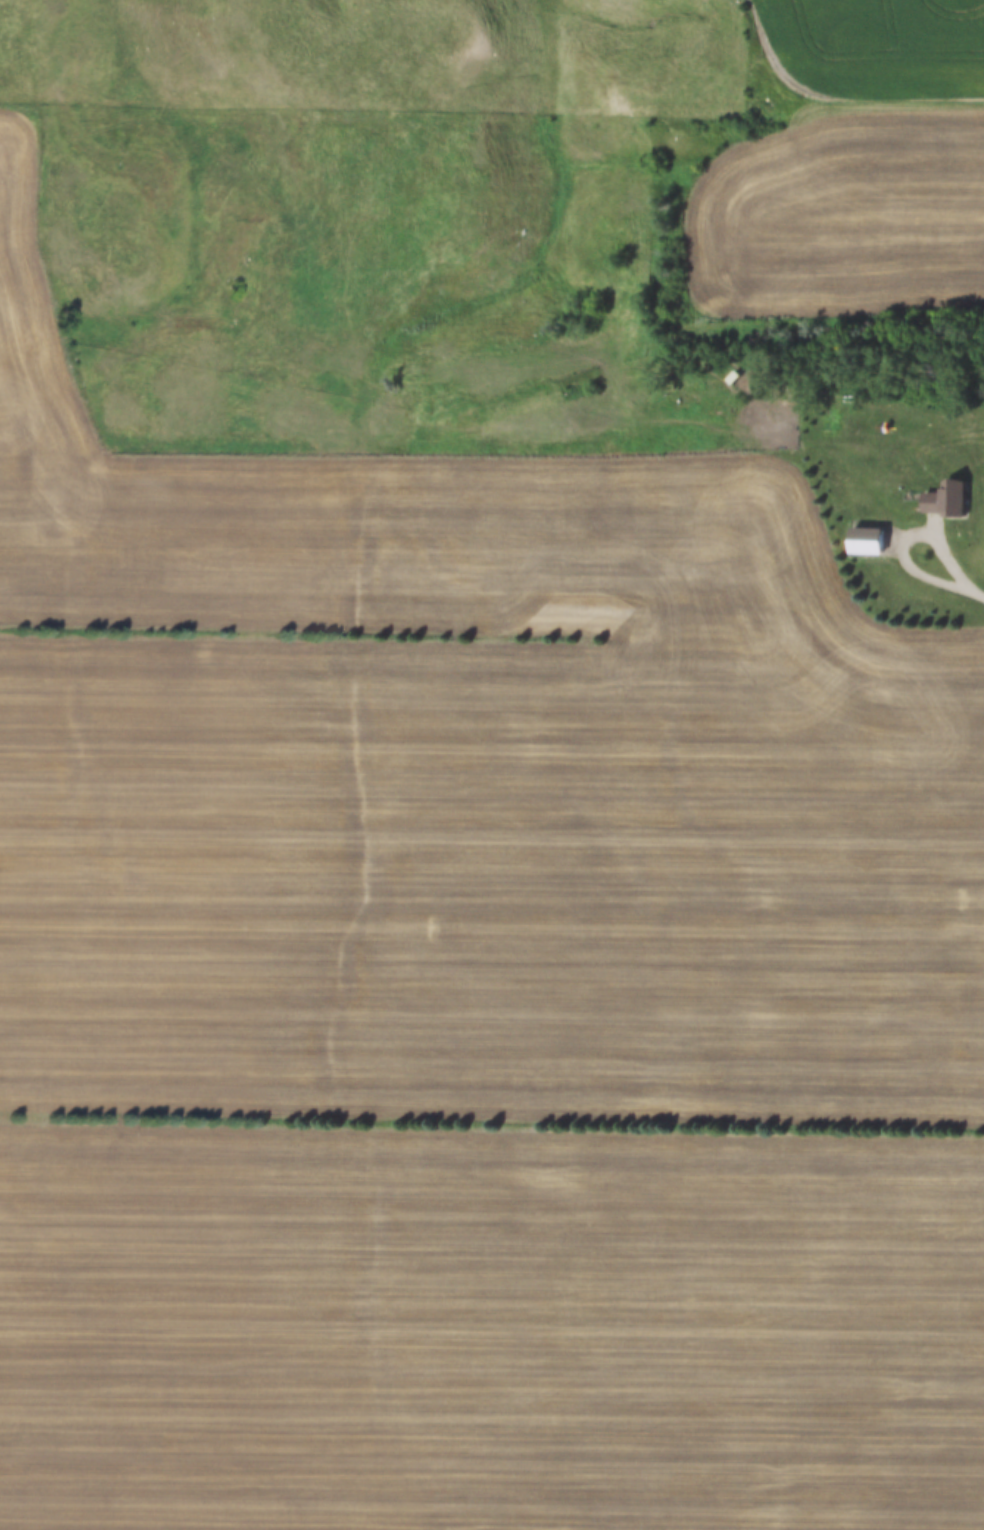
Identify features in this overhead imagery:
building: (735, 377)
building: (949, 499)
road: (981, 580)

